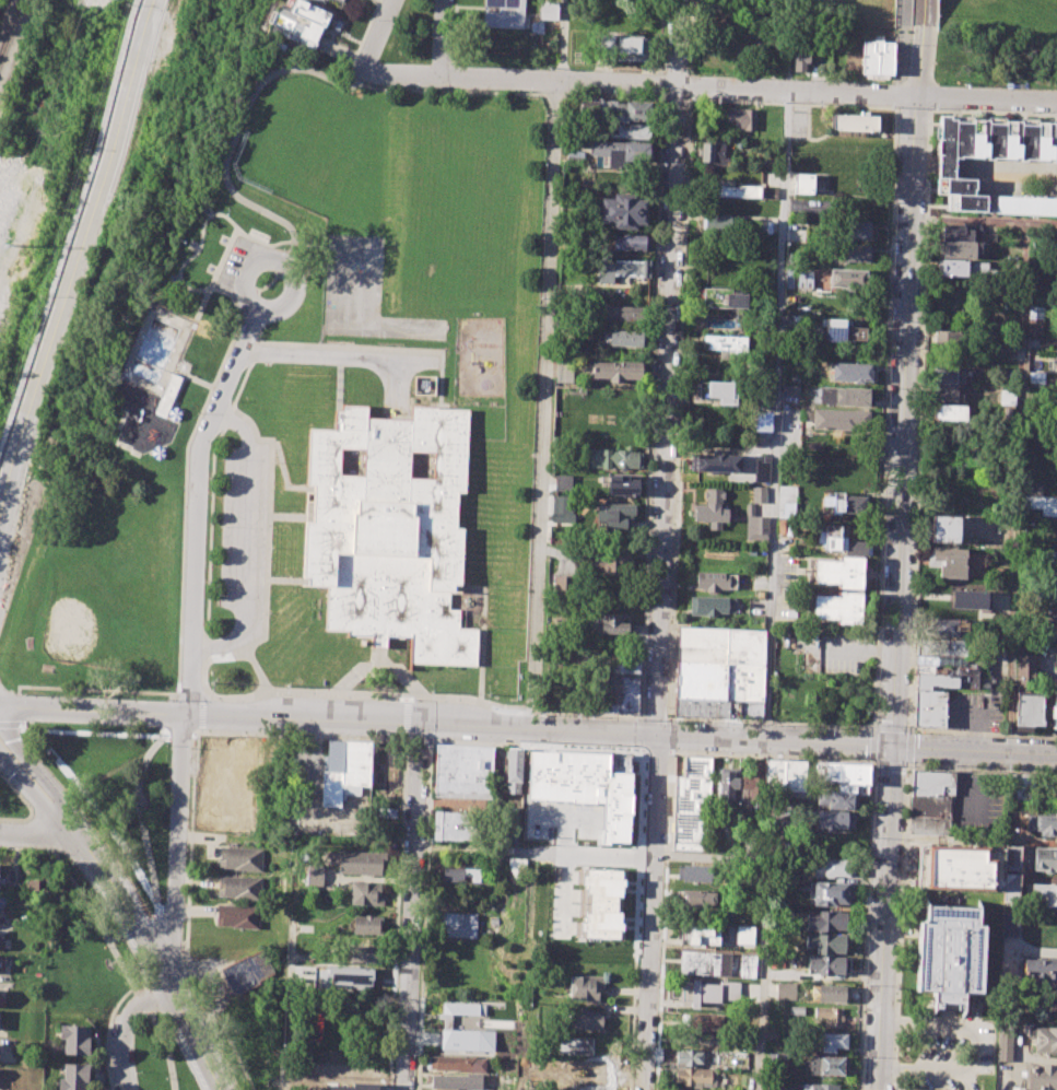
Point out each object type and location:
building: (339, 0)
building: (721, 5)
building: (548, 10)
road: (903, 11)
building: (504, 13)
road: (924, 13)
building: (309, 21)
building: (717, 23)
railway: (10, 26)
road: (379, 34)
road: (442, 38)
building: (754, 38)
road: (563, 40)
road: (677, 43)
building: (604, 45)
building: (633, 49)
road: (902, 52)
building: (801, 57)
building: (877, 59)
road: (709, 87)
road: (899, 93)
building: (613, 109)
road: (912, 110)
street lamp: (1030, 110)
road: (993, 113)
building: (745, 118)
building: (853, 122)
building: (632, 131)
road: (237, 132)
street lamp: (894, 138)
building: (618, 153)
building: (714, 153)
building: (574, 156)
building: (946, 168)
building: (802, 184)
building: (731, 191)
building: (771, 192)
building: (623, 211)
road: (984, 220)
building: (715, 224)
building: (859, 230)
building: (956, 232)
building: (631, 243)
building: (958, 249)
building: (856, 251)
road: (77, 258)
building: (954, 267)
building: (620, 269)
road: (246, 272)
road: (214, 276)
road: (179, 278)
building: (846, 278)
building: (803, 279)
building: (568, 292)
road: (293, 298)
building: (719, 298)
road: (682, 305)
building: (624, 313)
building: (1035, 318)
building: (842, 330)
building: (947, 338)
building: (622, 340)
building: (1002, 344)
building: (726, 347)
road: (376, 348)
road: (131, 352)
road: (252, 352)
road: (338, 356)
building: (614, 371)
building: (850, 372)
building: (564, 373)
building: (947, 376)
building: (1036, 377)
road: (197, 380)
park: (137, 382)
building: (424, 385)
road: (905, 385)
road: (395, 387)
building: (716, 392)
building: (944, 394)
building: (166, 395)
building: (1007, 396)
building: (846, 397)
road: (543, 407)
road: (665, 412)
building: (951, 412)
road: (775, 415)
building: (839, 420)
road: (919, 421)
building: (762, 422)
building: (613, 458)
building: (715, 464)
building: (761, 468)
building: (563, 483)
building: (621, 484)
road: (1017, 487)
building: (1032, 488)
building: (757, 494)
road: (268, 501)
building: (561, 504)
building: (847, 504)
building: (1043, 505)
road: (197, 506)
building: (710, 509)
road: (181, 511)
road: (881, 514)
building: (615, 515)
building: (759, 525)
building: (391, 528)
building: (944, 529)
parking lot: (243, 539)
road: (248, 540)
building: (853, 547)
building: (1053, 558)
building: (612, 560)
building: (950, 561)
building: (839, 572)
building: (710, 581)
building: (564, 584)
building: (968, 599)
park: (103, 606)
building: (710, 606)
building: (837, 607)
building: (1056, 612)
building: (609, 626)
building: (940, 626)
building: (938, 648)
road: (849, 652)
parking lot: (836, 653)
road: (232, 656)
building: (1056, 656)
building: (624, 665)
building: (744, 665)
building: (1025, 671)
building: (947, 679)
road: (87, 689)
road: (359, 692)
building: (609, 693)
building: (627, 694)
road: (407, 698)
building: (929, 707)
road: (90, 710)
road: (201, 710)
road: (529, 711)
building: (1027, 711)
building: (1054, 712)
road: (184, 714)
road: (590, 714)
road: (404, 717)
road: (9, 723)
road: (871, 724)
road: (872, 726)
road: (891, 726)
road: (200, 729)
road: (179, 730)
road: (980, 731)
road: (539, 734)
road: (639, 734)
road: (298, 735)
road: (670, 736)
road: (416, 741)
road: (871, 742)
road: (536, 746)
road: (907, 746)
road: (973, 749)
road: (656, 751)
road: (668, 751)
road: (771, 755)
road: (889, 762)
road: (980, 766)
road: (35, 769)
road: (115, 770)
building: (344, 770)
building: (513, 770)
building: (462, 771)
building: (827, 771)
building: (843, 772)
building: (858, 772)
building: (783, 774)
building: (585, 785)
building: (727, 785)
building: (844, 787)
building: (860, 787)
road: (28, 792)
building: (750, 793)
building: (834, 799)
building: (930, 801)
building: (692, 805)
road: (93, 807)
building: (831, 819)
building: (849, 820)
building: (1046, 823)
building: (457, 825)
road: (34, 833)
road: (174, 846)
road: (531, 851)
building: (239, 858)
building: (1045, 859)
building: (360, 863)
building: (959, 867)
building: (834, 868)
building: (693, 872)
building: (314, 875)
building: (460, 875)
building: (33, 883)
building: (239, 887)
building: (831, 892)
building: (1044, 892)
building: (365, 893)
building: (697, 898)
building: (602, 903)
road: (409, 906)
road: (396, 913)
road: (649, 913)
road: (152, 914)
road: (423, 915)
building: (236, 916)
road: (186, 917)
road: (883, 917)
road: (635, 918)
road: (763, 918)
road: (663, 921)
building: (825, 921)
building: (366, 924)
building: (458, 924)
road: (865, 924)
road: (900, 925)
building: (1009, 928)
building: (698, 934)
building: (744, 935)
building: (824, 942)
road: (150, 950)
road: (1030, 951)
building: (365, 954)
building: (948, 954)
building: (1, 962)
building: (701, 962)
building: (827, 964)
building: (748, 969)
building: (1038, 971)
building: (246, 972)
building: (345, 975)
building: (584, 987)
building: (786, 991)
building: (708, 992)
building: (833, 994)
building: (462, 1008)
building: (830, 1017)
building: (584, 1019)
building: (702, 1021)
road: (124, 1027)
building: (75, 1039)
building: (708, 1039)
building: (1043, 1039)
building: (467, 1040)
building: (831, 1042)
building: (1003, 1043)
road: (972, 1050)
building: (689, 1057)
building: (777, 1063)
building: (455, 1064)
building: (827, 1066)
building: (1040, 1076)
building: (73, 1077)
building: (696, 1077)
building: (456, 1081)
building: (779, 1087)
building: (819, 1087)

